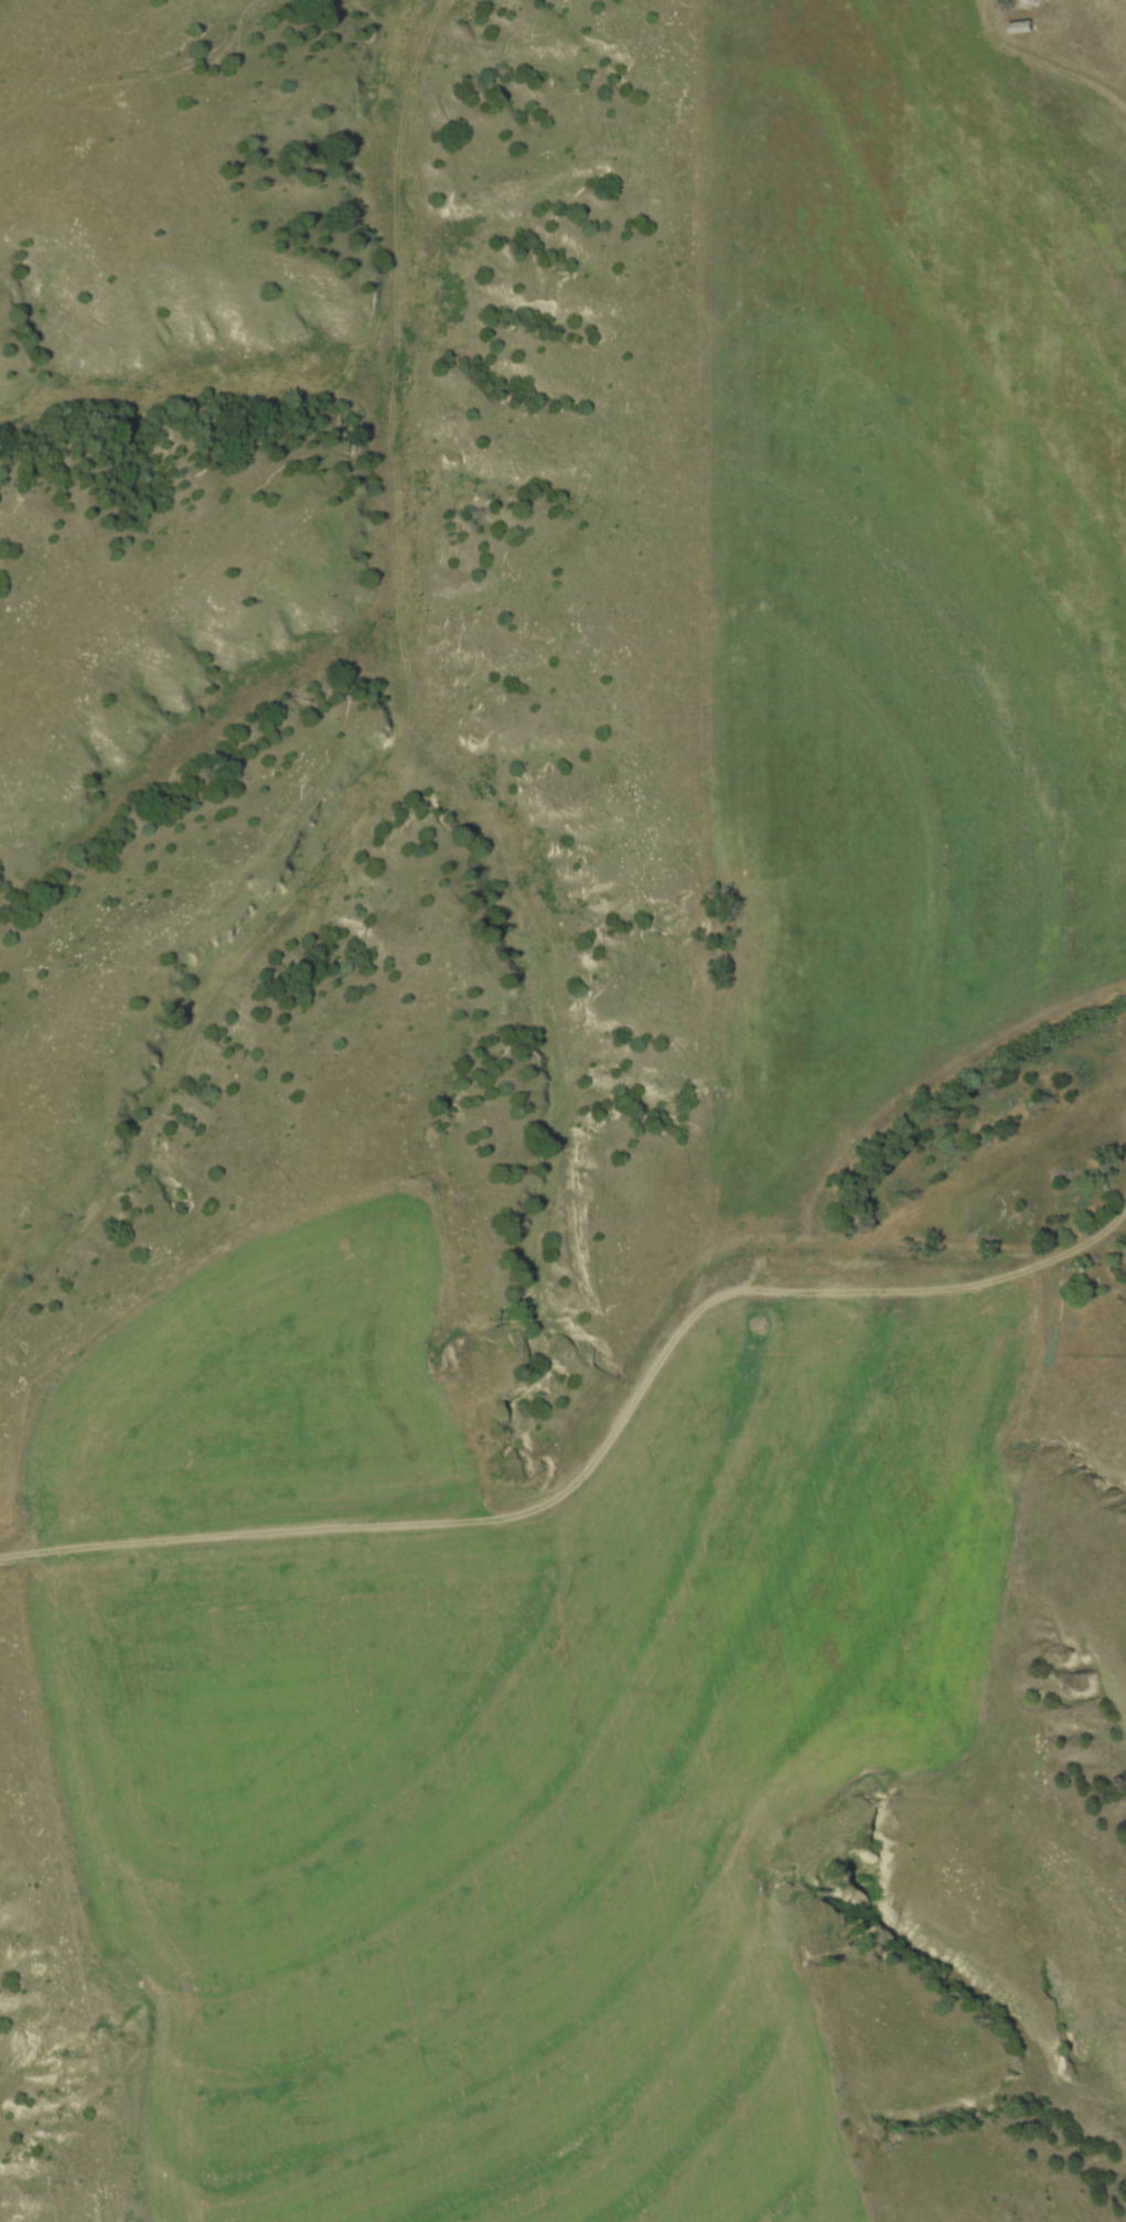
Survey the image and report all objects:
building: (1027, 3)
building: (1021, 26)
road: (1104, 43)
road: (600, 1452)

